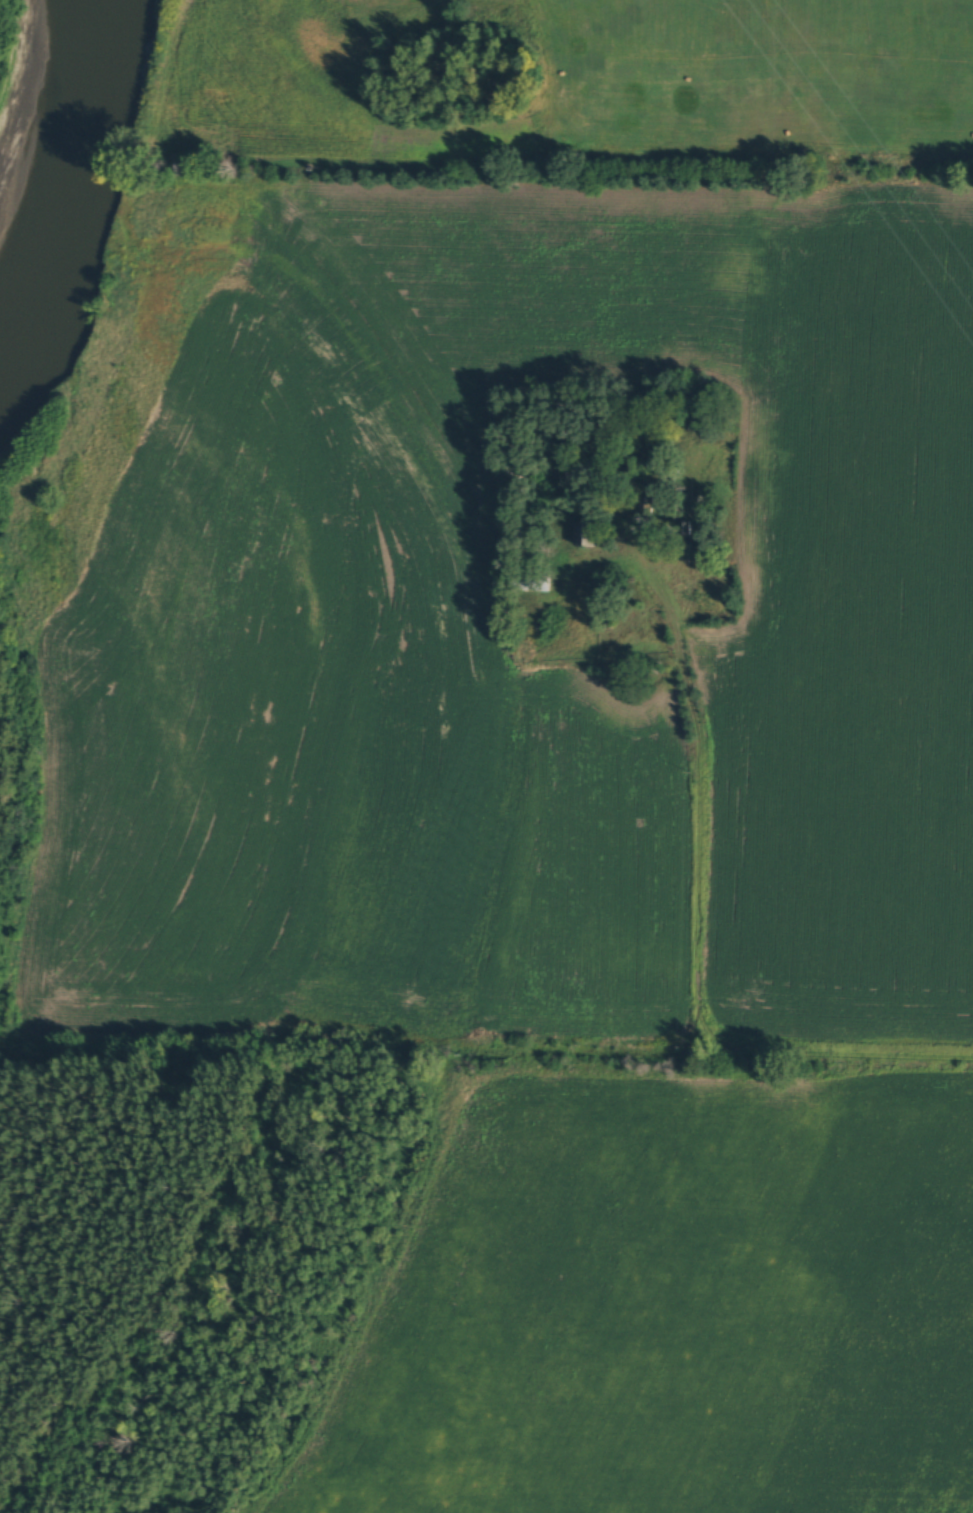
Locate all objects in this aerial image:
river: (51, 118)
building: (583, 530)
building: (527, 579)
road: (700, 920)

